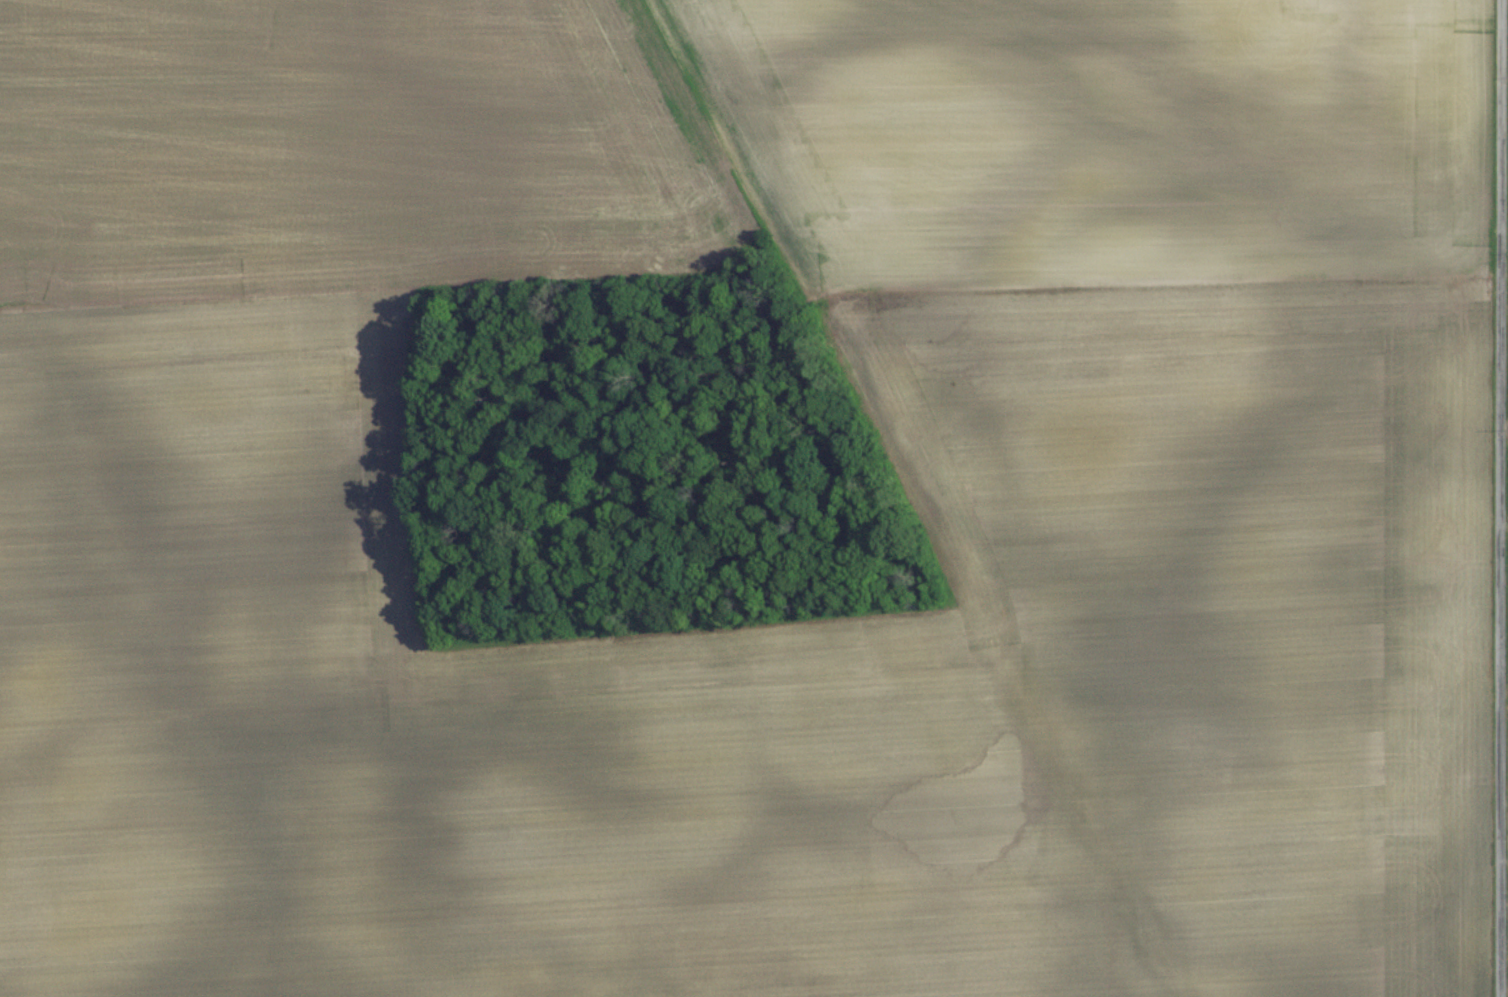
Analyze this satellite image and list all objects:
road: (1497, 498)

